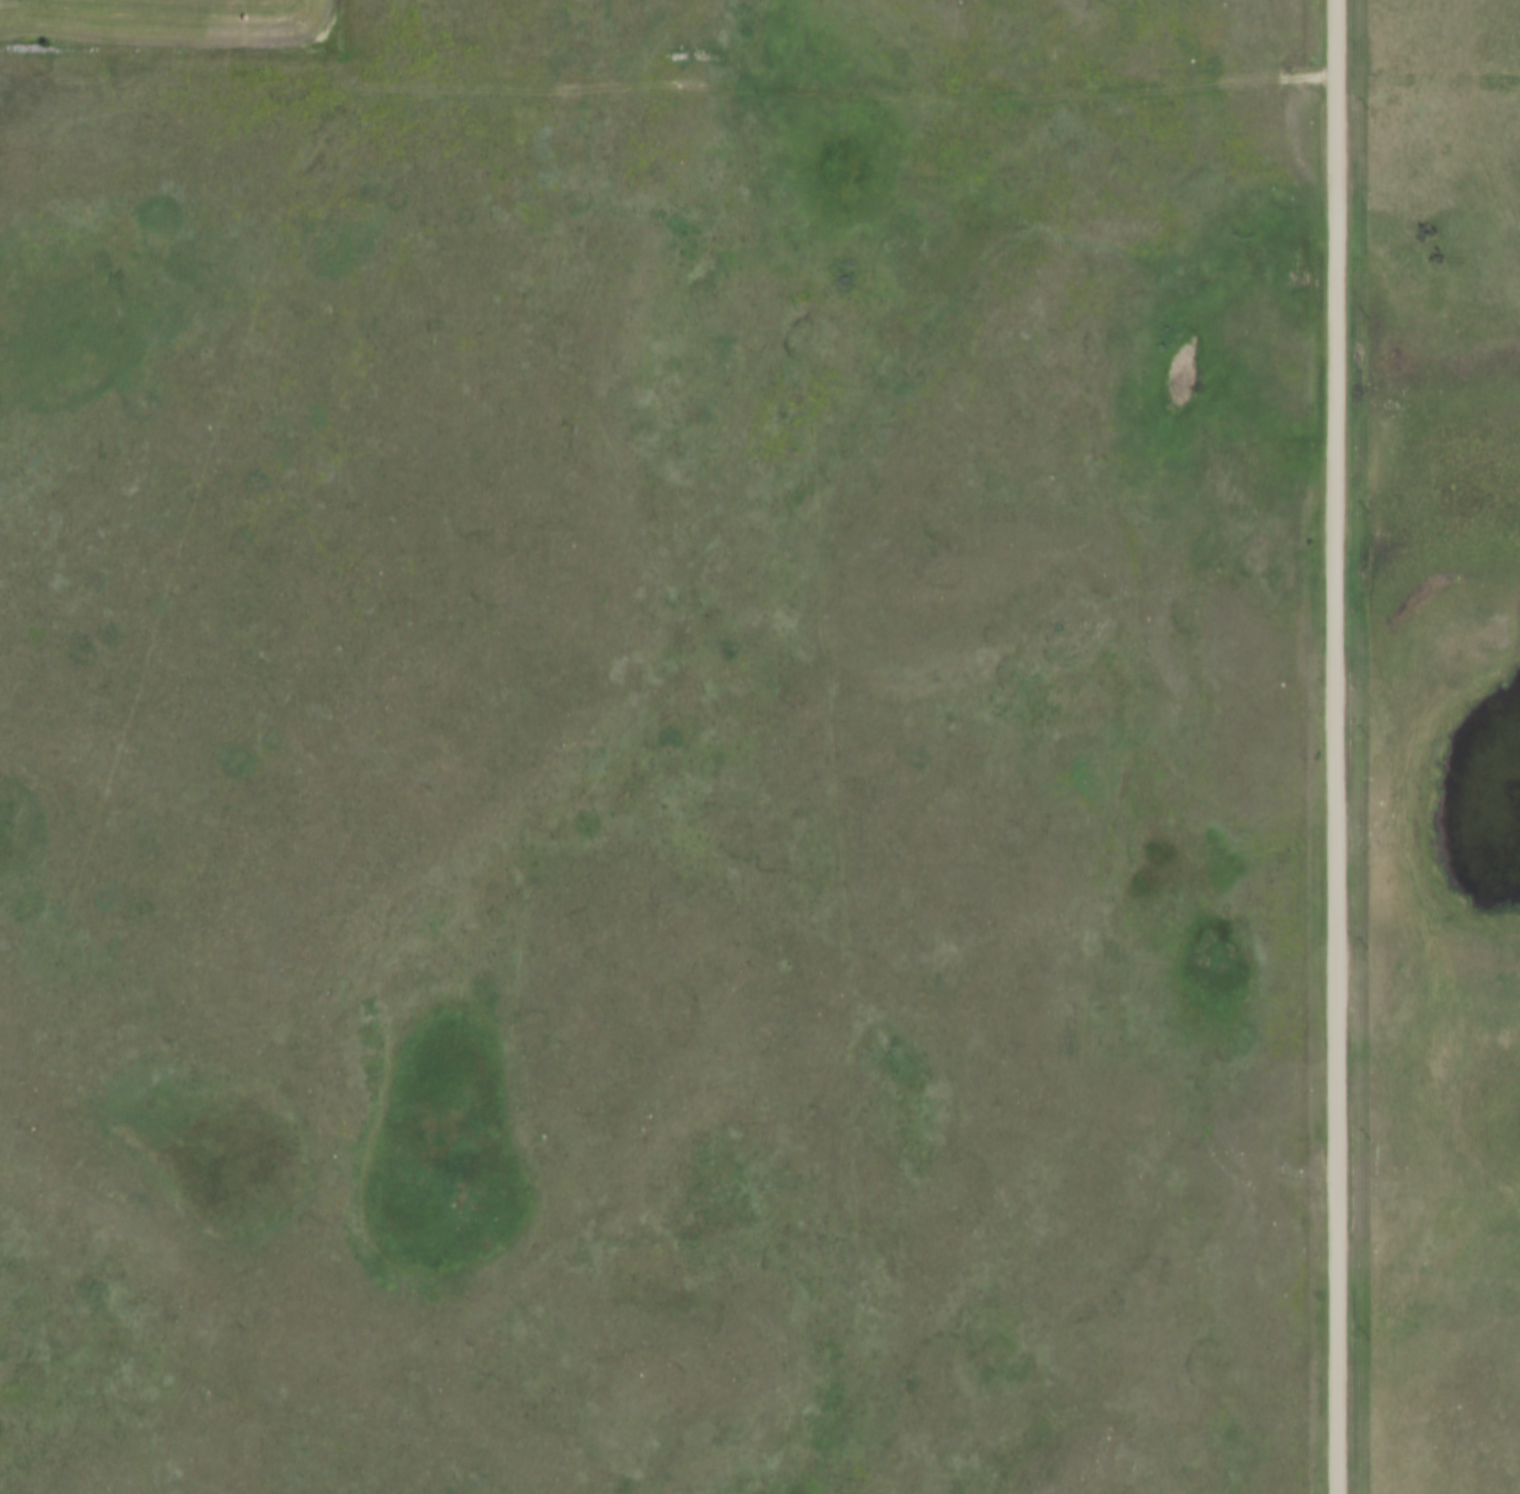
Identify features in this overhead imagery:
road: (964, 85)
road: (1337, 747)

